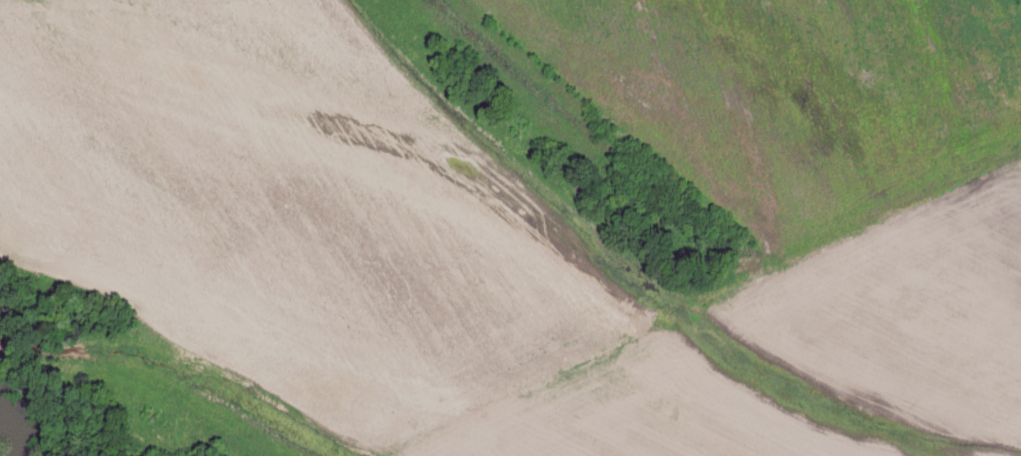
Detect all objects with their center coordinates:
river: (4, 450)

